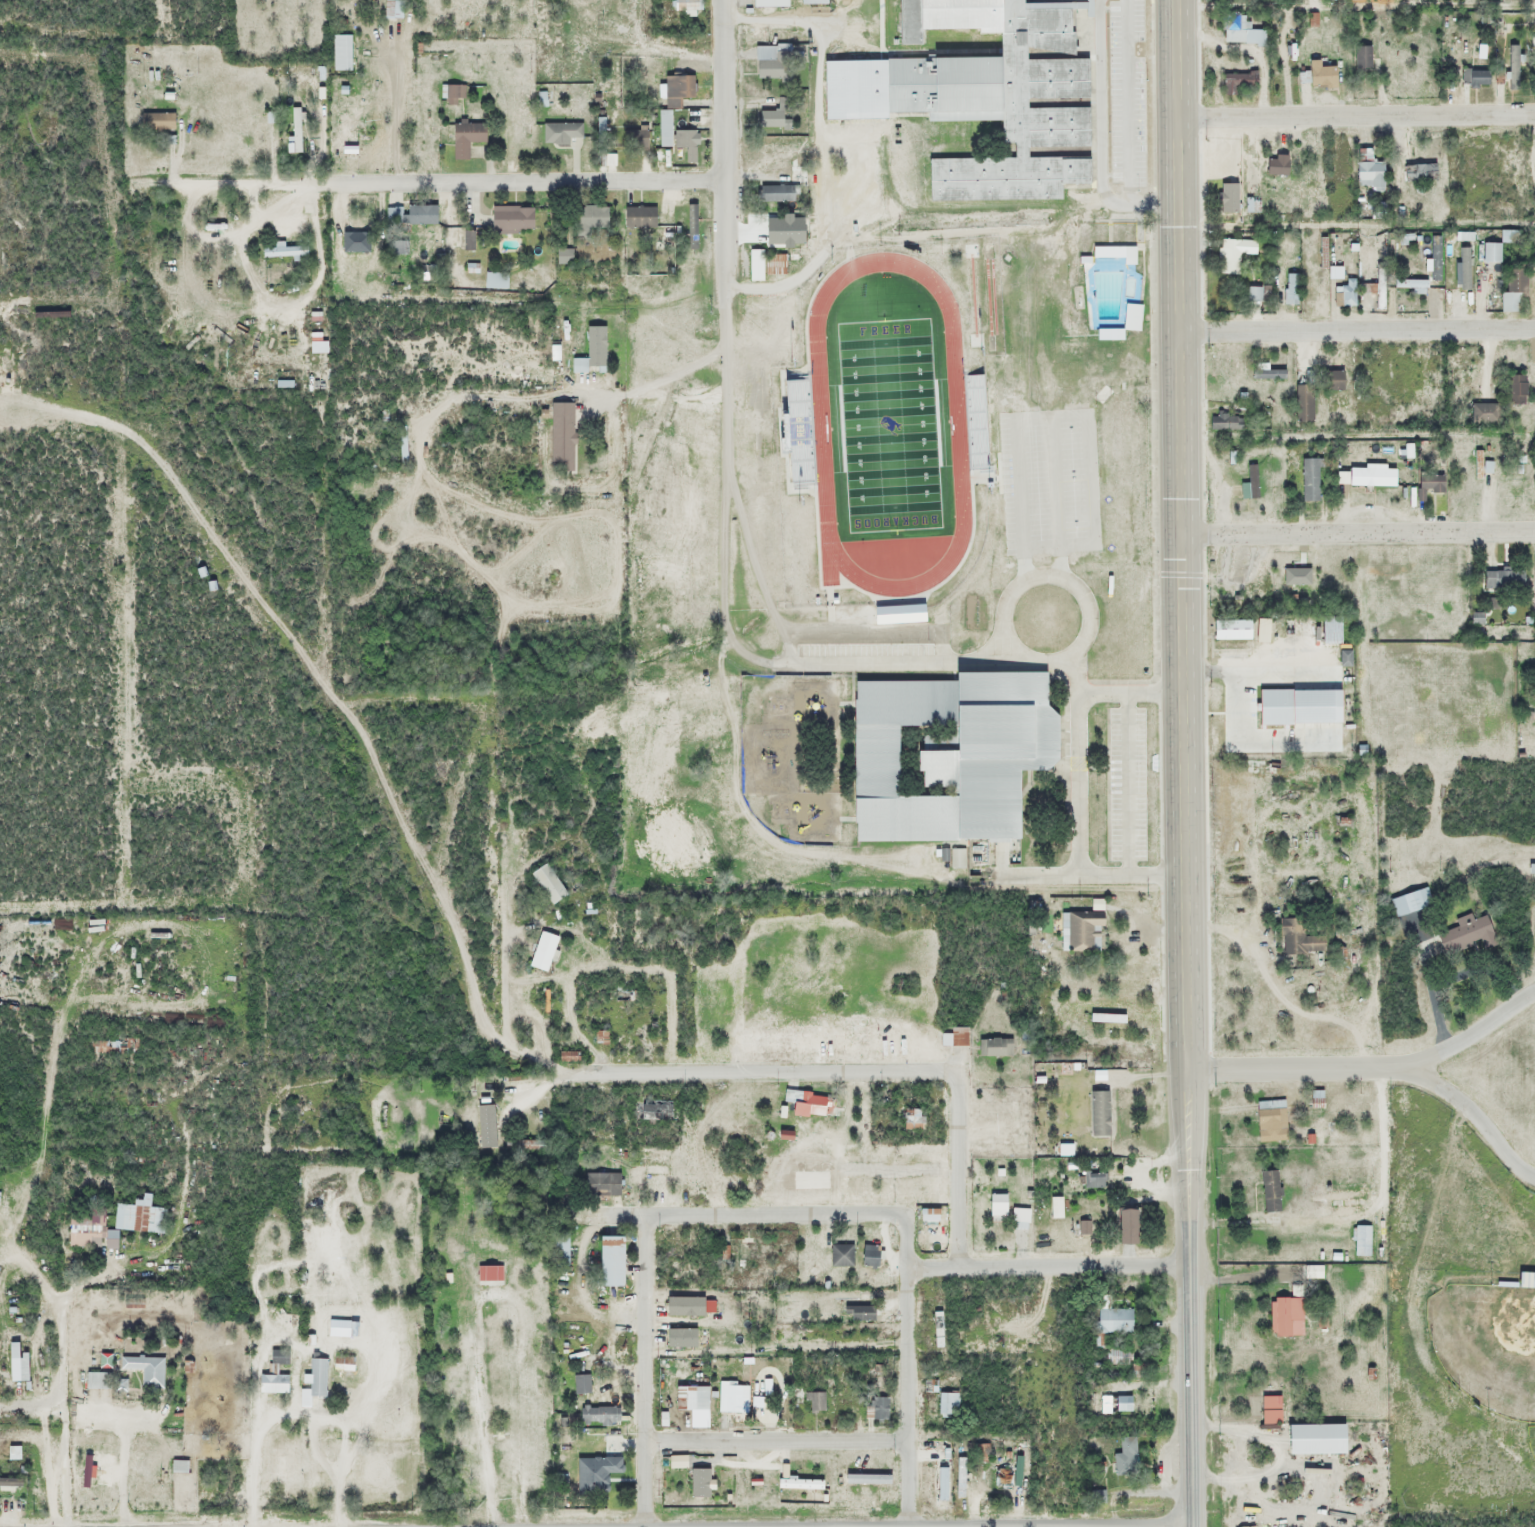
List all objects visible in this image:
building: (768, 3)
building: (686, 5)
building: (391, 9)
building: (1533, 20)
building: (1239, 30)
building: (1361, 58)
building: (771, 62)
building: (1318, 76)
building: (1474, 78)
building: (1510, 78)
building: (1237, 82)
building: (677, 90)
building: (449, 91)
building: (979, 93)
road: (1357, 114)
building: (774, 117)
building: (156, 122)
building: (295, 130)
building: (353, 130)
building: (560, 133)
building: (465, 139)
building: (635, 139)
road: (721, 143)
building: (686, 144)
building: (774, 156)
building: (1276, 165)
building: (1419, 172)
building: (1368, 174)
road: (447, 181)
building: (774, 194)
building: (1226, 198)
building: (1251, 205)
building: (420, 215)
building: (638, 218)
building: (511, 219)
building: (589, 219)
building: (777, 227)
building: (354, 232)
building: (1509, 237)
building: (468, 240)
building: (396, 248)
building: (283, 251)
building: (946, 254)
building: (1232, 254)
building: (563, 257)
building: (755, 265)
building: (494, 281)
building: (1409, 284)
building: (1534, 286)
building: (1512, 287)
building: (1378, 288)
building: (1290, 290)
building: (1319, 294)
building: (1345, 294)
building: (1453, 295)
building: (1130, 318)
road: (1358, 330)
building: (585, 362)
building: (1271, 375)
building: (1332, 381)
building: (283, 384)
building: (1515, 390)
building: (1005, 402)
building: (1303, 404)
building: (1484, 413)
building: (779, 417)
track: (882, 420)
park: (884, 423)
building: (561, 437)
building: (401, 443)
building: (802, 458)
building: (1485, 466)
building: (1370, 478)
building: (1252, 480)
building: (1309, 481)
building: (1428, 485)
road: (1359, 533)
building: (1297, 574)
building: (1502, 580)
road: (725, 609)
building: (894, 613)
building: (1229, 630)
building: (1327, 630)
road: (1073, 724)
building: (944, 755)
road: (1184, 762)
building: (955, 859)
road: (1128, 872)
building: (1530, 875)
building: (546, 884)
building: (1410, 903)
building: (548, 919)
building: (1080, 930)
building: (1465, 936)
building: (1299, 939)
building: (543, 953)
building: (1124, 979)
building: (958, 1037)
road: (1468, 1037)
building: (994, 1047)
road: (1290, 1068)
road: (771, 1072)
building: (1315, 1099)
building: (805, 1104)
building: (998, 1109)
building: (650, 1111)
road: (1472, 1113)
building: (1098, 1114)
building: (912, 1120)
building: (1270, 1121)
road: (1380, 1135)
building: (526, 1145)
road: (955, 1171)
building: (1092, 1180)
building: (600, 1185)
building: (1268, 1192)
building: (996, 1205)
road: (776, 1214)
building: (1019, 1216)
building: (137, 1217)
building: (1123, 1228)
building: (83, 1237)
building: (1360, 1241)
building: (559, 1249)
building: (746, 1253)
building: (840, 1255)
building: (870, 1256)
building: (608, 1261)
road: (1047, 1267)
building: (1530, 1280)
building: (859, 1313)
building: (1285, 1316)
building: (1114, 1321)
building: (936, 1329)
park: (1484, 1343)
building: (1117, 1356)
building: (277, 1358)
building: (12, 1363)
building: (342, 1364)
road: (643, 1370)
building: (144, 1371)
building: (316, 1378)
building: (271, 1384)
building: (580, 1384)
road: (905, 1397)
building: (689, 1398)
building: (731, 1398)
building: (815, 1401)
building: (947, 1403)
building: (878, 1407)
building: (1269, 1410)
building: (598, 1415)
road: (774, 1441)
building: (1123, 1457)
building: (1002, 1477)
building: (850, 1480)
building: (601, 1482)
building: (821, 1486)
road: (917, 1525)
road: (1192, 1525)

